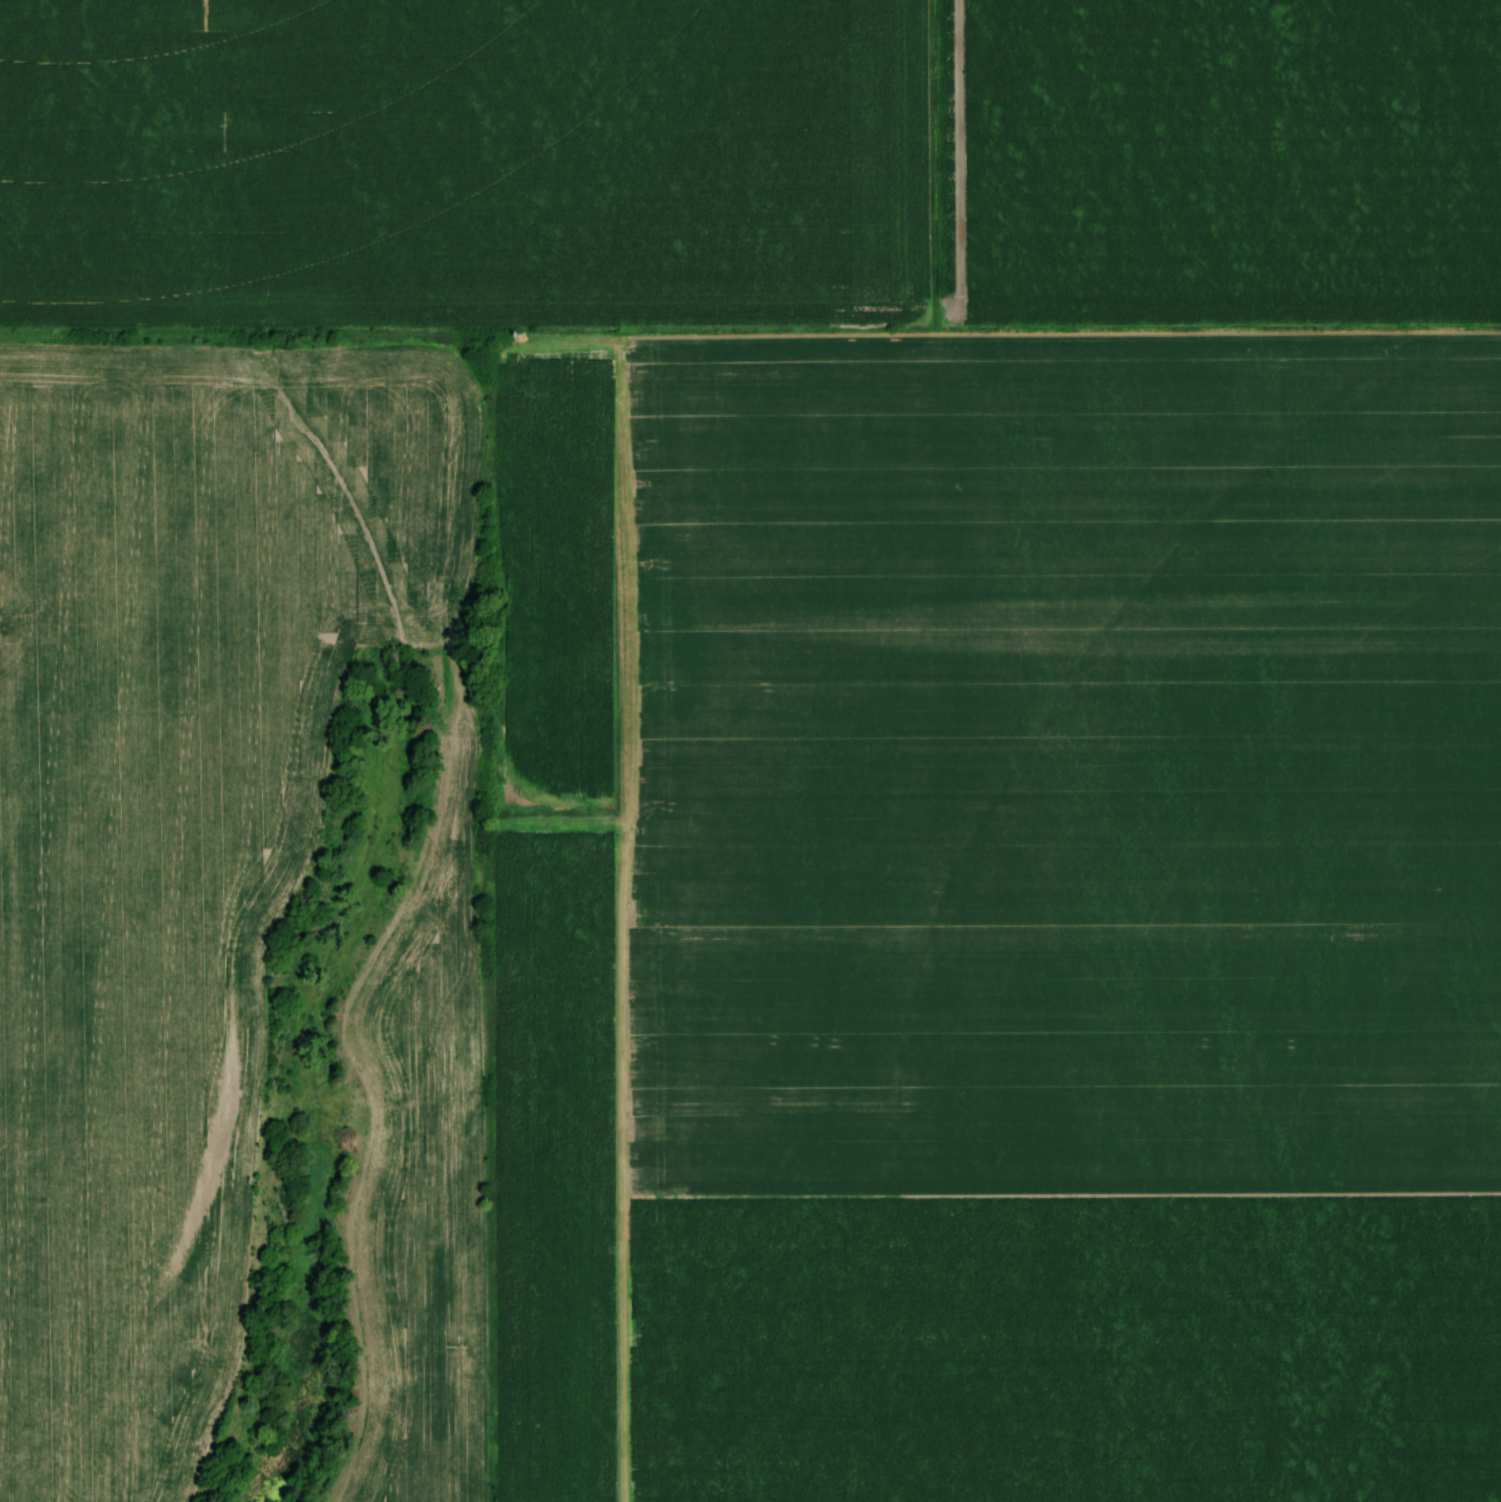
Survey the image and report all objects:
crop: (452, 165)

